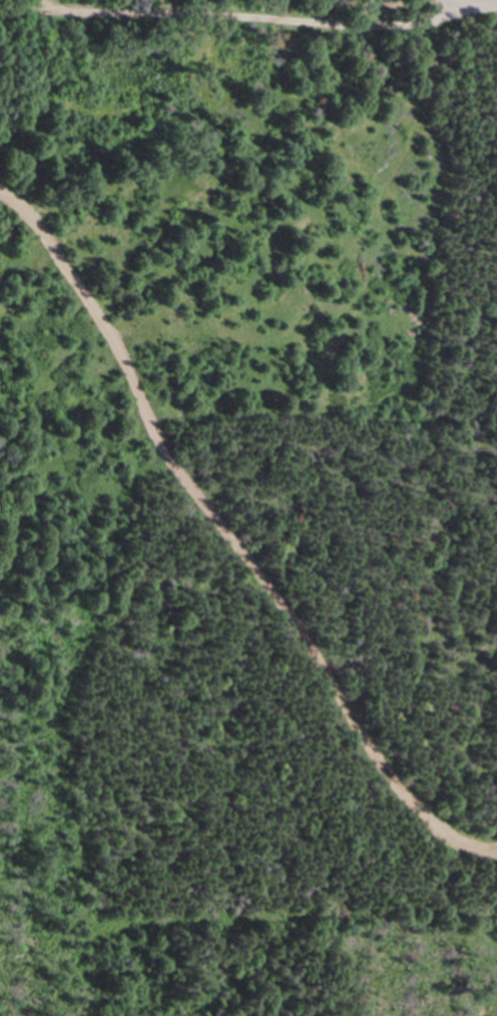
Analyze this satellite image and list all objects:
road: (57, 6)
road: (293, 18)
road: (231, 535)

